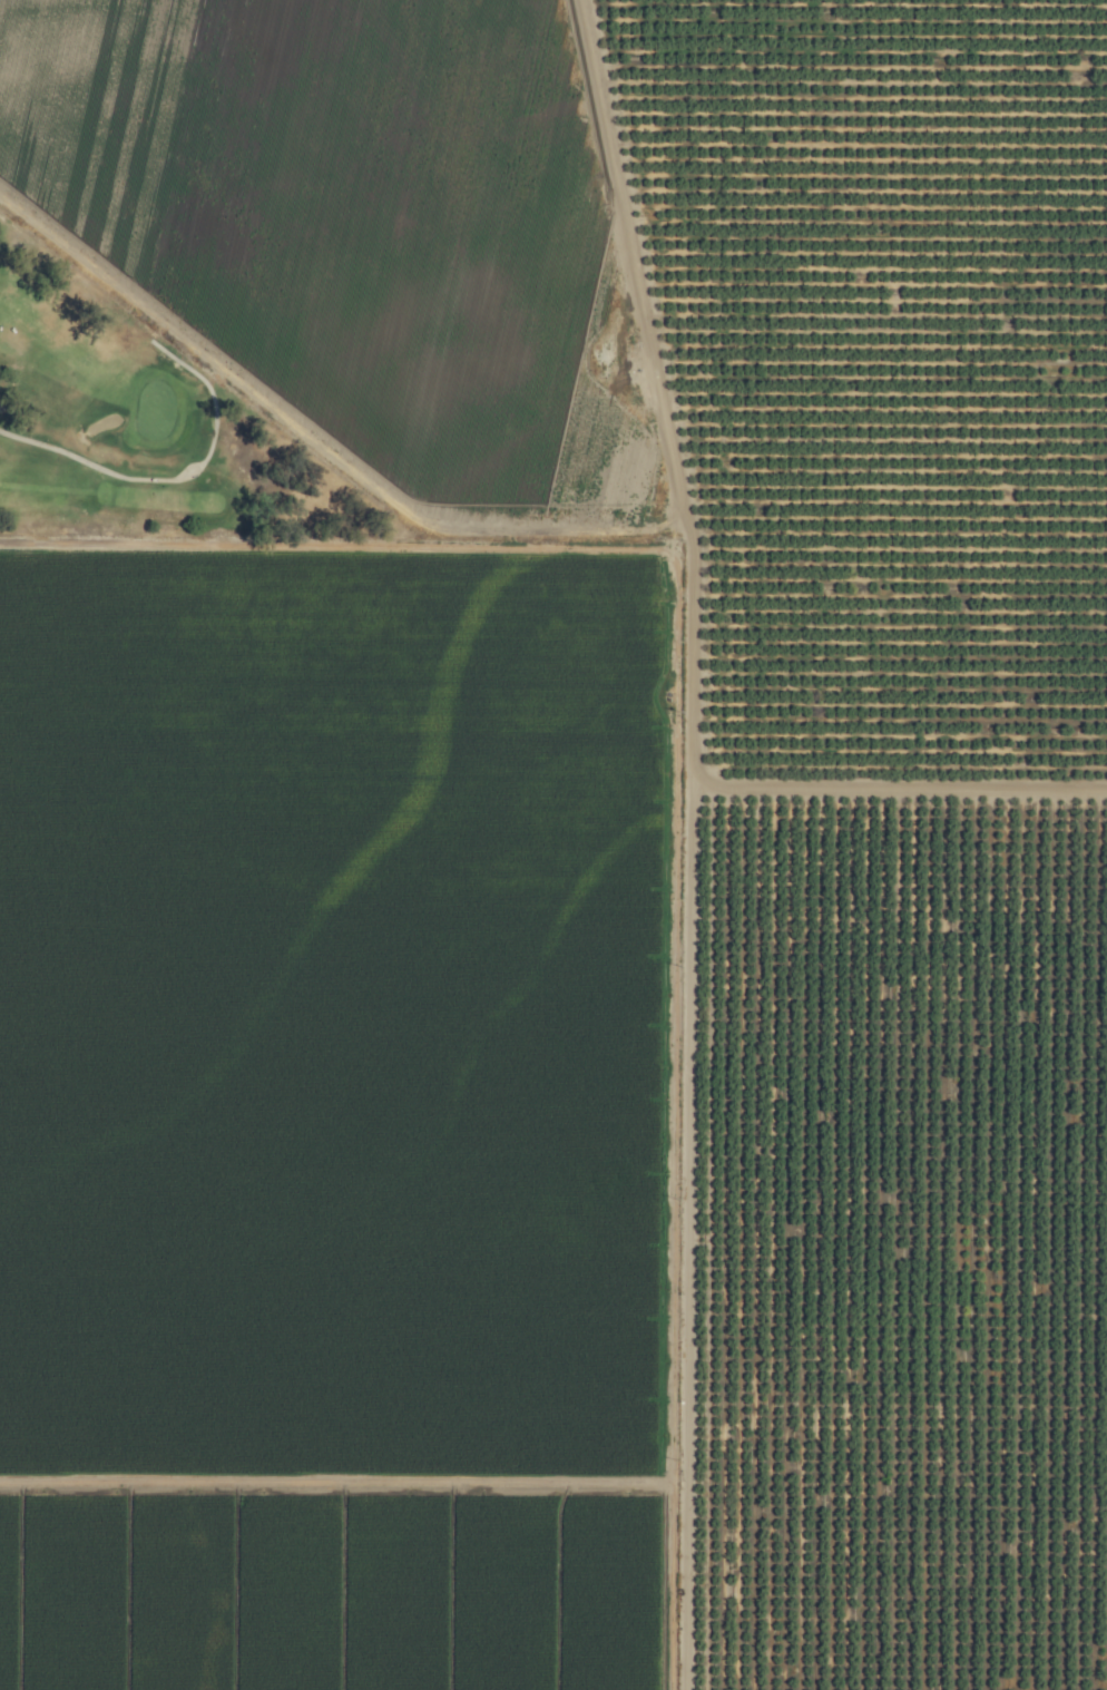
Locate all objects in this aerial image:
park: (156, 457)
crop: (571, 864)

